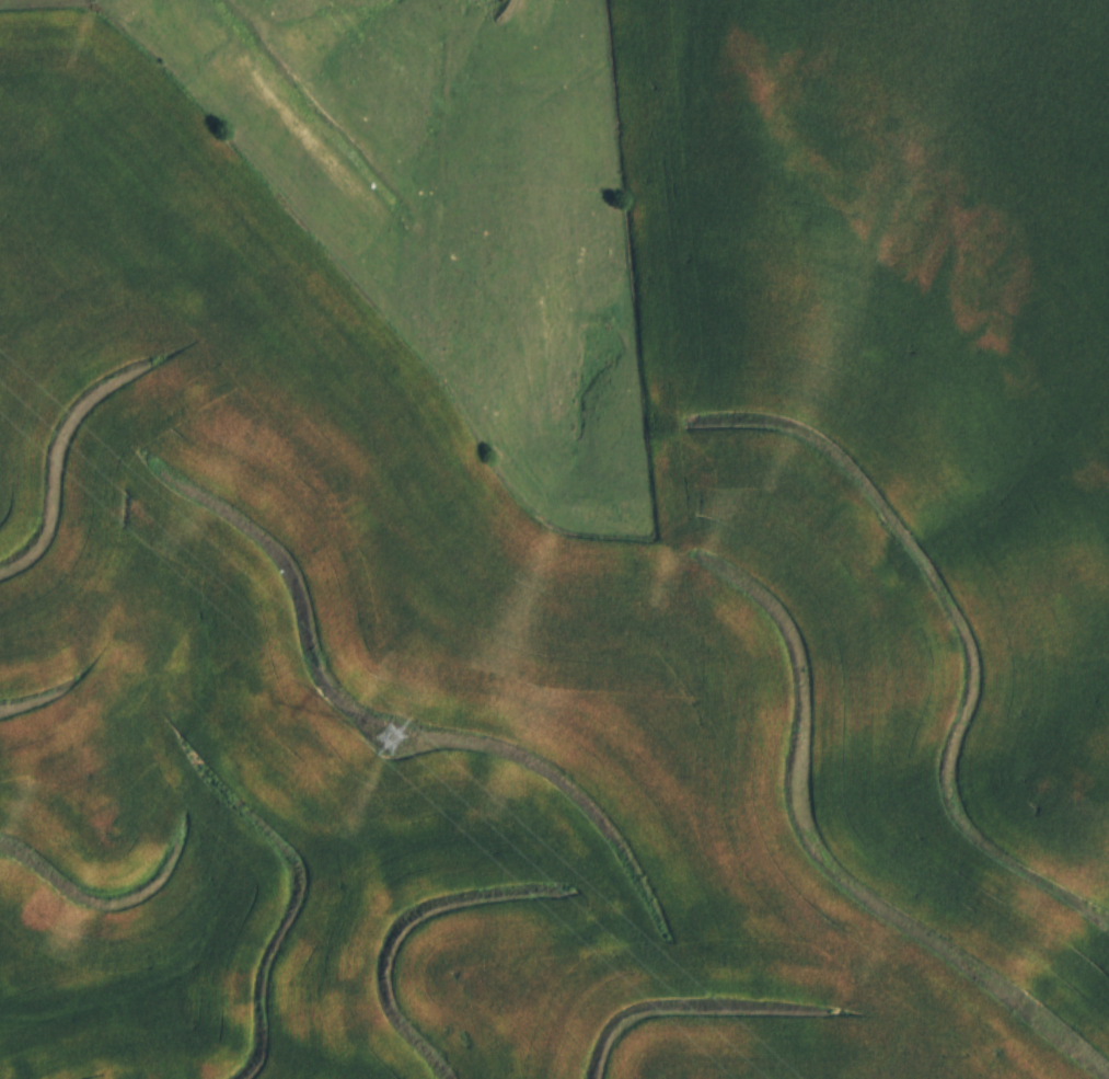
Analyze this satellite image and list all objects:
power tower: (402, 742)

